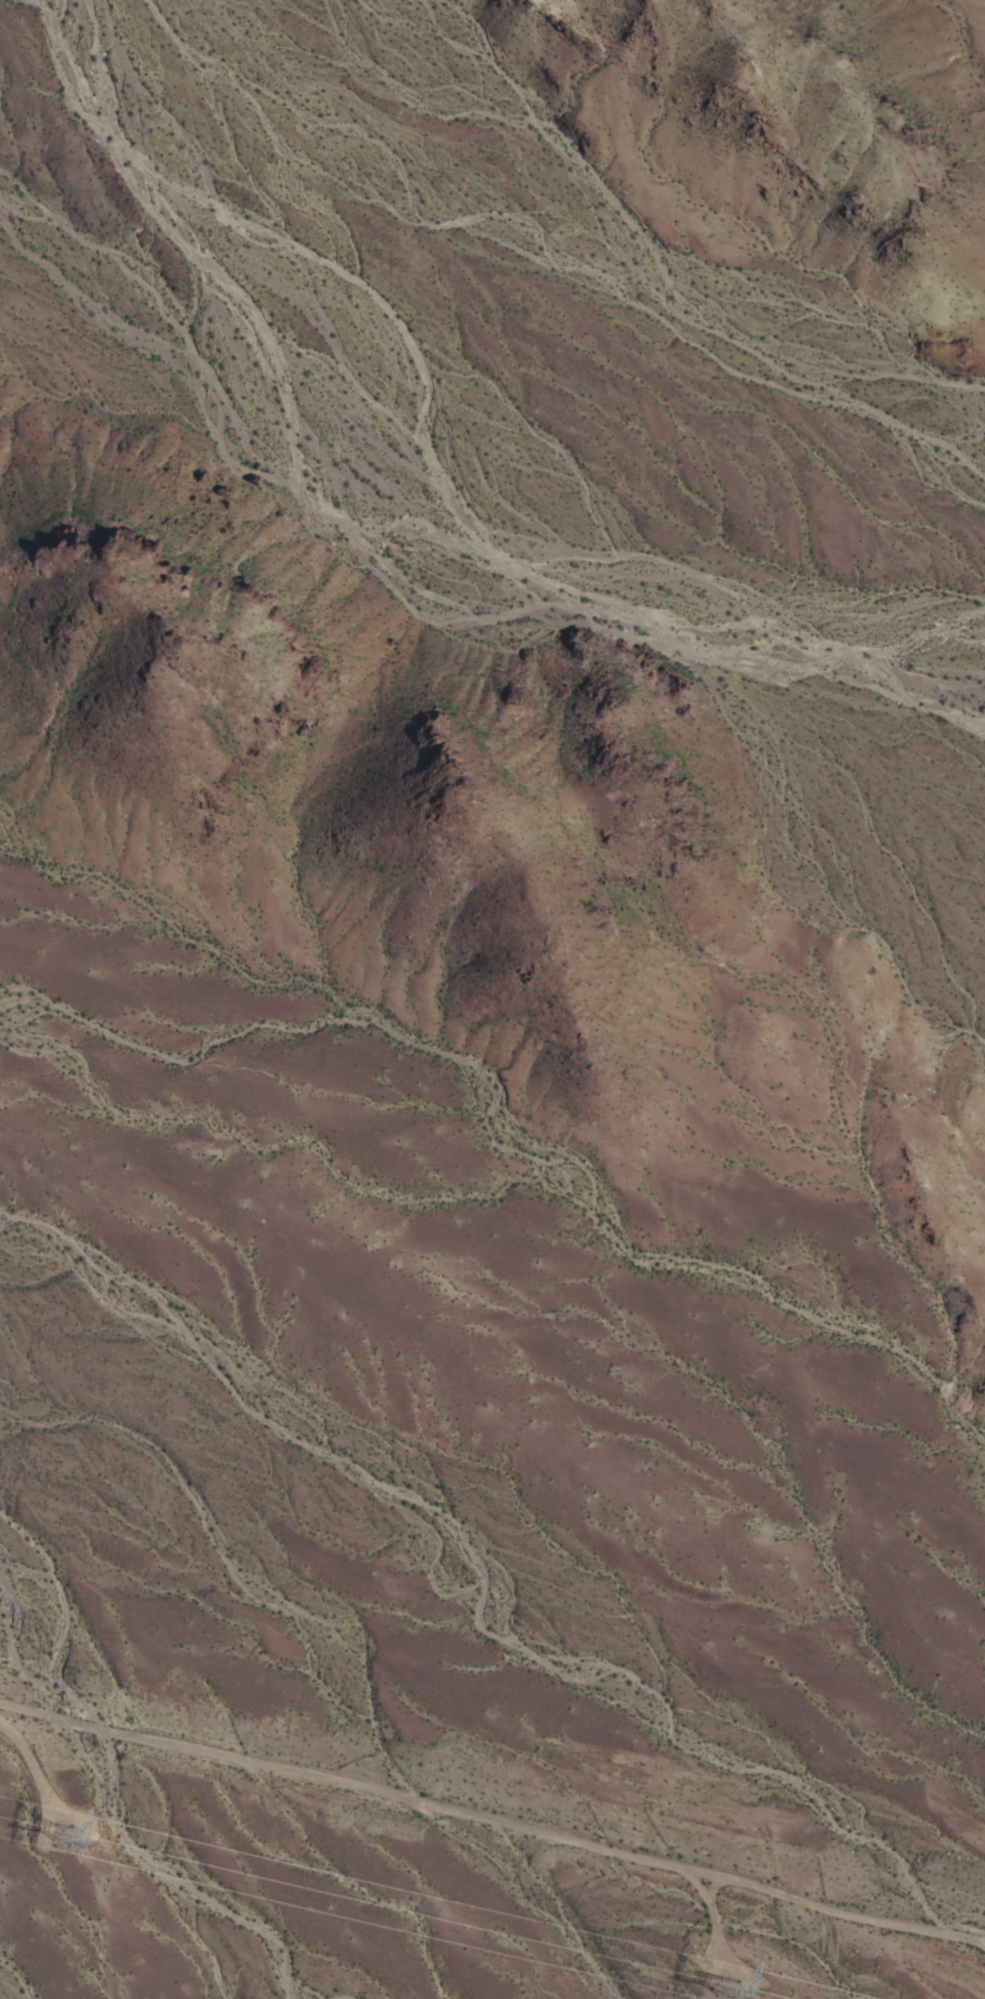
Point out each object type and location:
road: (492, 1812)
power tower: (66, 1839)
power tower: (750, 1991)

